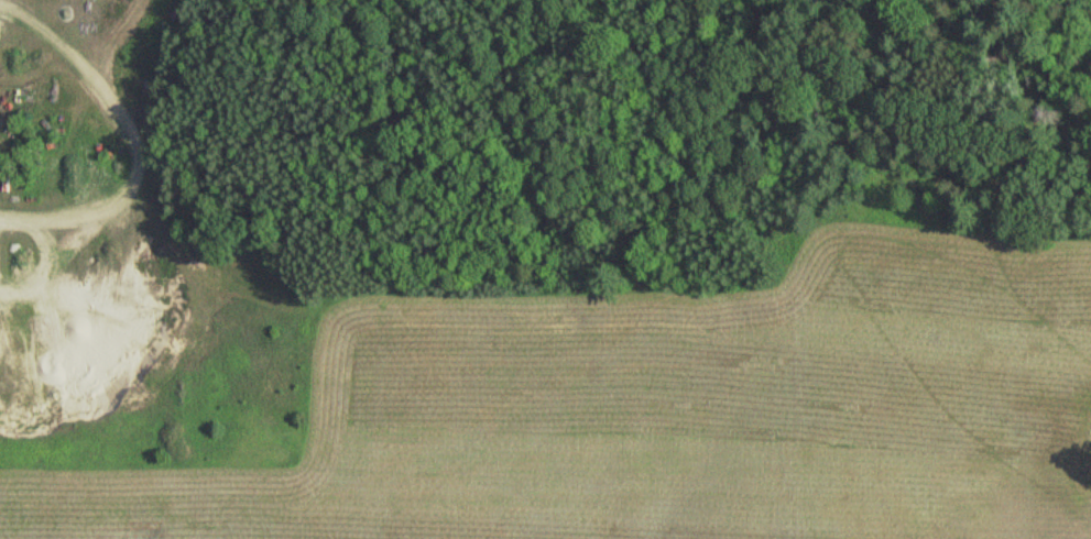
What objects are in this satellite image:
building: (112, 26)

